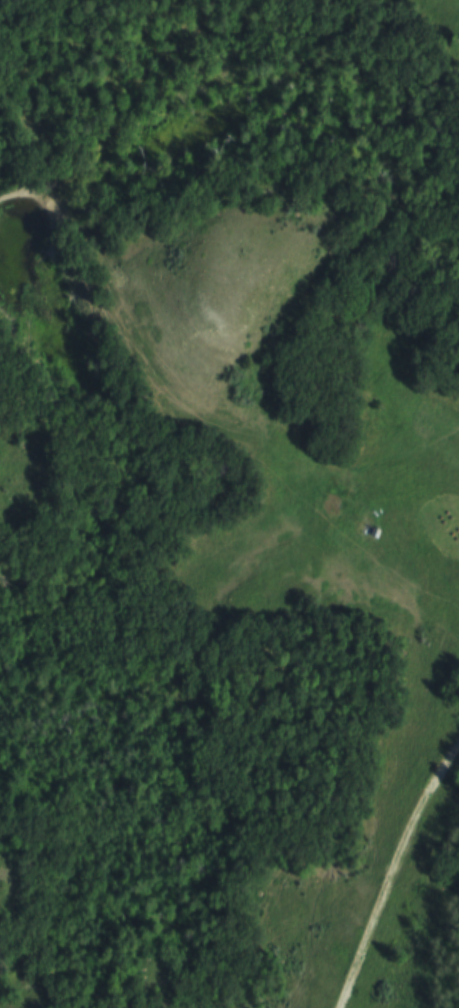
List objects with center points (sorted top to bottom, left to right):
road: (390, 870)

